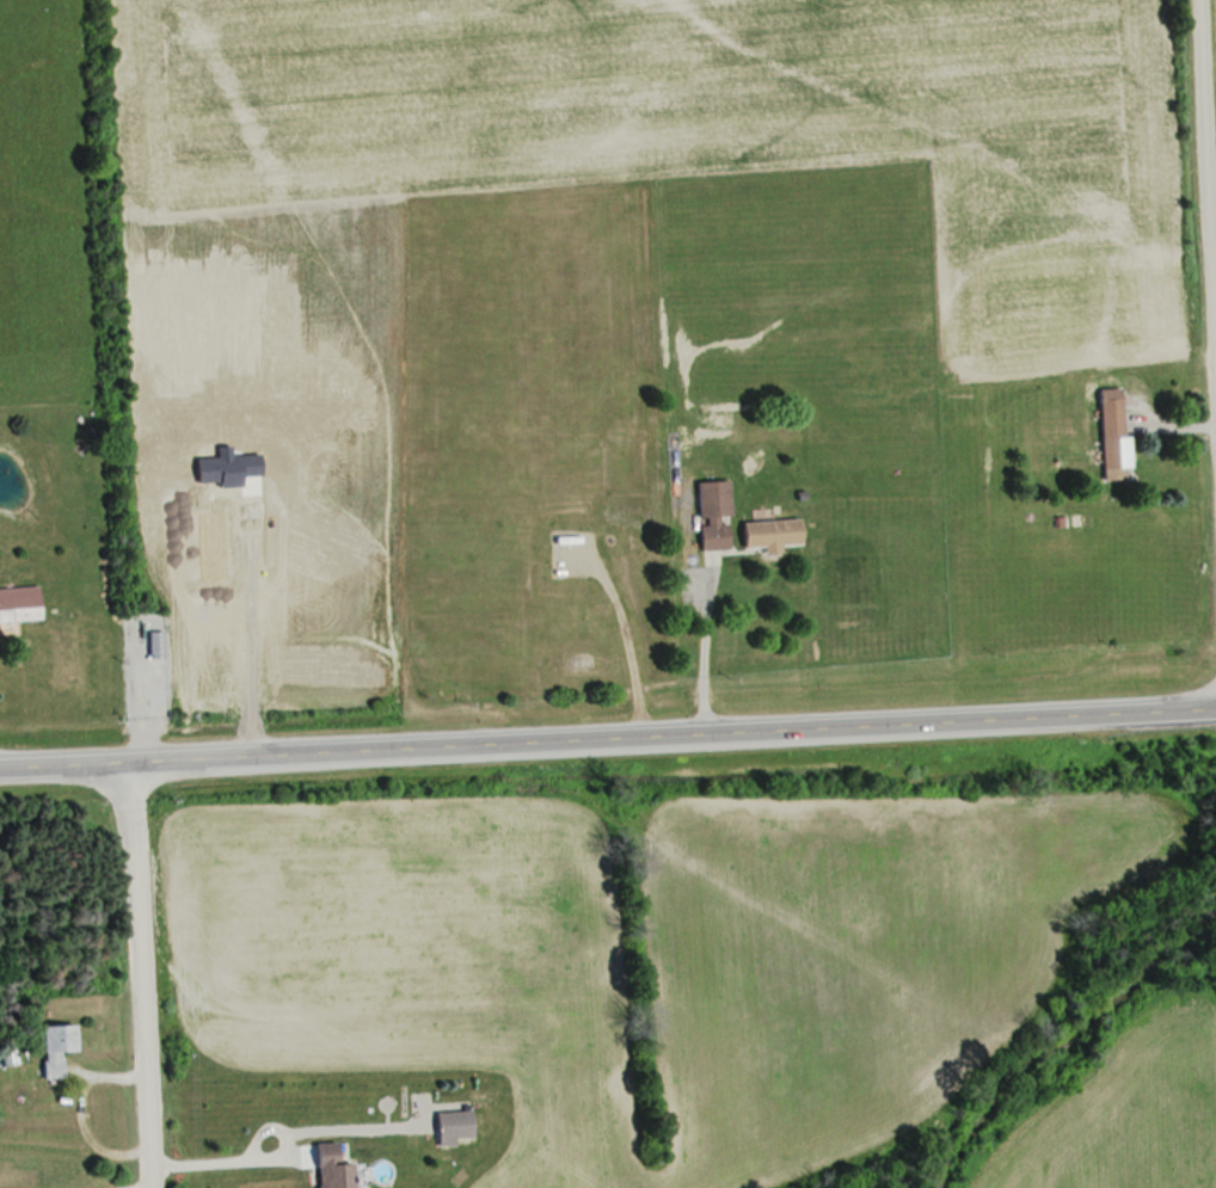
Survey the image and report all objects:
road: (1204, 248)
building: (1111, 432)
building: (713, 515)
building: (770, 534)
building: (19, 603)
building: (153, 645)
road: (607, 733)
road: (131, 973)
building: (56, 1047)
building: (455, 1126)
building: (332, 1168)

